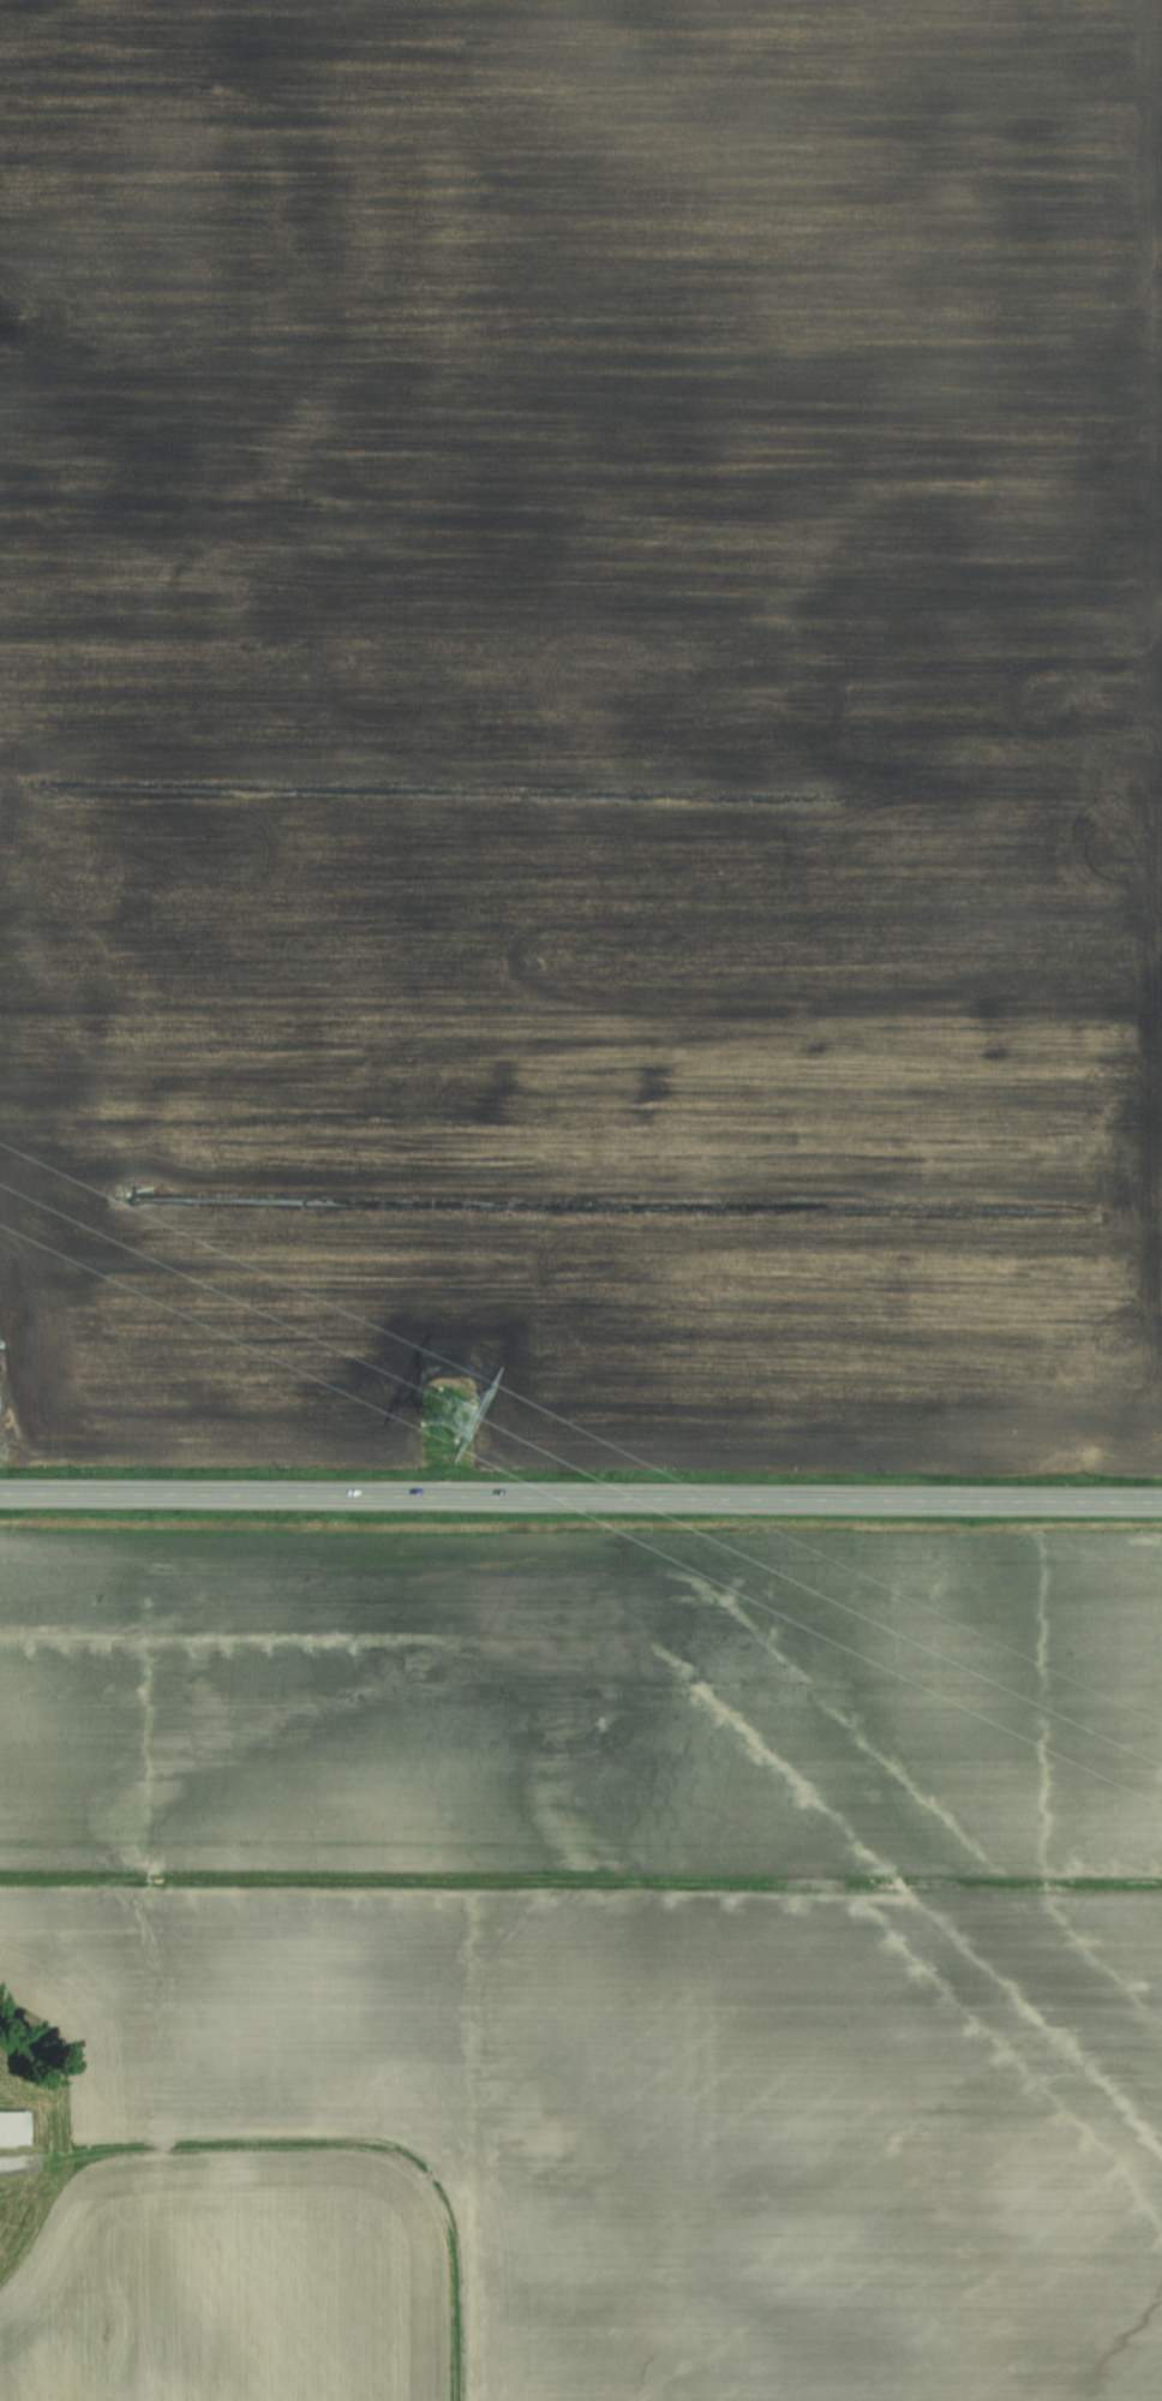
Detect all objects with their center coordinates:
power tower: (447, 1414)
road: (581, 1495)
building: (14, 2128)

